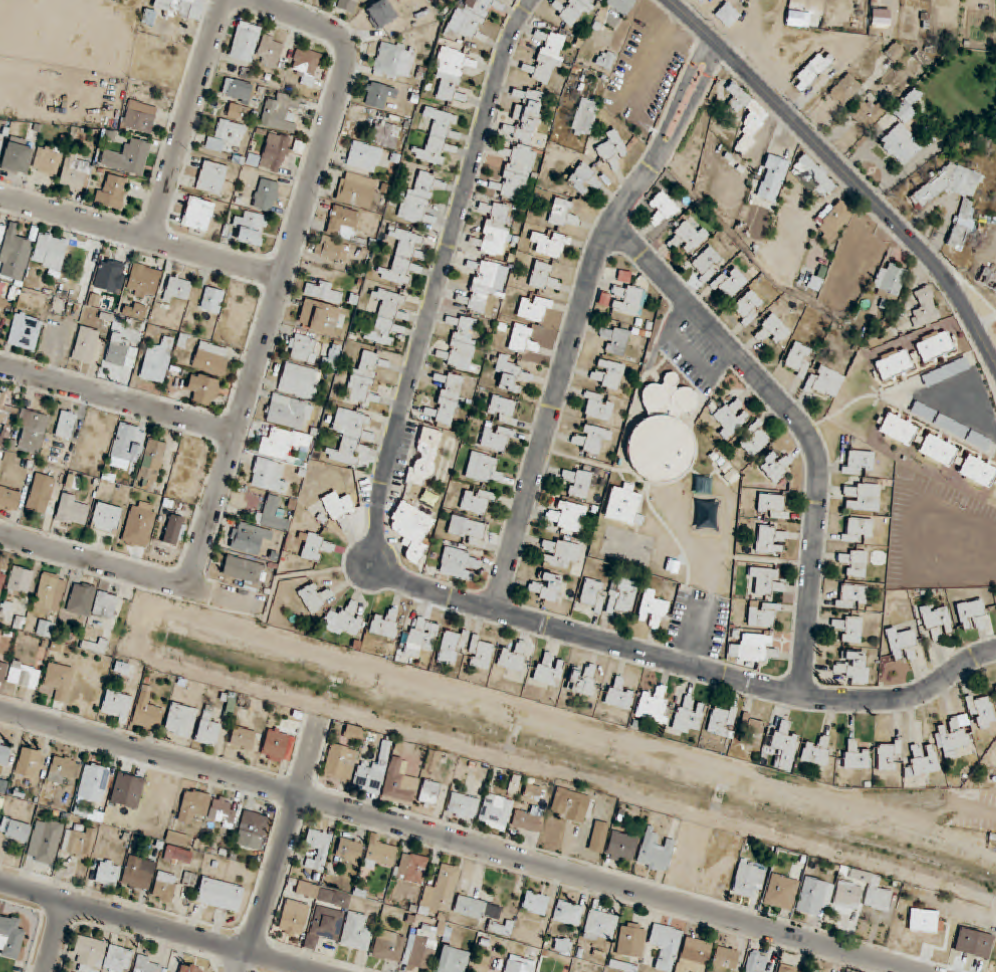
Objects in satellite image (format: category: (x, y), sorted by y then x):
building: (701, 1)
building: (346, 5)
building: (621, 5)
building: (181, 8)
building: (575, 11)
building: (380, 13)
building: (727, 14)
building: (469, 18)
building: (881, 18)
building: (648, 28)
building: (245, 42)
building: (270, 51)
building: (672, 52)
building: (895, 52)
building: (548, 58)
building: (606, 59)
building: (393, 60)
building: (306, 65)
building: (812, 70)
building: (449, 72)
building: (235, 88)
building: (845, 89)
building: (378, 94)
road: (681, 97)
road: (692, 107)
building: (238, 112)
building: (283, 112)
building: (866, 113)
building: (585, 116)
road: (187, 117)
building: (526, 117)
building: (139, 118)
building: (751, 131)
building: (902, 131)
building: (225, 134)
building: (386, 134)
building: (436, 137)
building: (0, 141)
building: (275, 152)
building: (17, 156)
building: (364, 156)
building: (128, 158)
building: (47, 160)
building: (76, 172)
building: (516, 172)
road: (846, 174)
building: (814, 177)
building: (212, 178)
building: (772, 178)
building: (584, 179)
building: (356, 190)
building: (113, 192)
building: (266, 195)
building: (417, 199)
building: (966, 208)
building: (662, 209)
building: (198, 214)
building: (564, 214)
building: (834, 221)
building: (251, 228)
building: (494, 229)
building: (340, 233)
road: (141, 234)
building: (688, 236)
building: (549, 244)
building: (852, 250)
building: (50, 251)
building: (15, 253)
building: (403, 257)
building: (707, 263)
road: (287, 265)
road: (444, 266)
building: (109, 274)
building: (544, 277)
building: (988, 278)
building: (890, 279)
building: (143, 281)
building: (729, 282)
building: (486, 284)
building: (176, 291)
building: (324, 292)
building: (212, 300)
building: (631, 300)
building: (845, 305)
building: (747, 307)
building: (534, 308)
building: (924, 308)
building: (135, 312)
building: (319, 317)
building: (385, 317)
building: (772, 330)
building: (24, 332)
building: (615, 340)
building: (523, 341)
building: (462, 344)
building: (85, 345)
building: (934, 346)
building: (301, 348)
building: (121, 351)
building: (332, 357)
building: (211, 359)
building: (799, 359)
building: (157, 360)
building: (893, 364)
building: (945, 372)
building: (607, 374)
building: (511, 375)
building: (364, 376)
road: (560, 379)
building: (300, 380)
building: (825, 382)
building: (204, 389)
road: (118, 396)
building: (448, 398)
building: (597, 406)
building: (503, 410)
building: (6, 411)
building: (289, 412)
building: (732, 417)
building: (66, 423)
road: (802, 424)
building: (950, 426)
building: (897, 429)
building: (32, 430)
building: (662, 433)
building: (348, 436)
building: (496, 438)
building: (590, 439)
building: (754, 439)
building: (283, 445)
building: (127, 446)
building: (937, 450)
building: (858, 462)
building: (151, 464)
building: (423, 465)
building: (775, 466)
building: (484, 469)
building: (977, 471)
building: (729, 474)
building: (269, 476)
building: (579, 480)
building: (72, 481)
building: (41, 495)
building: (429, 497)
building: (862, 497)
building: (9, 498)
building: (477, 501)
building: (623, 504)
building: (773, 506)
building: (73, 510)
building: (339, 510)
building: (272, 515)
building: (568, 517)
building: (139, 527)
building: (173, 530)
building: (411, 530)
building: (466, 530)
building: (857, 530)
building: (248, 538)
building: (770, 540)
building: (313, 546)
building: (933, 548)
building: (559, 552)
road: (93, 561)
building: (457, 563)
building: (854, 563)
building: (243, 569)
building: (1, 577)
building: (20, 580)
building: (766, 581)
building: (548, 589)
road: (223, 590)
building: (50, 594)
building: (592, 595)
building: (851, 596)
building: (315, 597)
building: (623, 597)
building: (81, 599)
building: (105, 605)
building: (652, 609)
building: (763, 615)
building: (972, 615)
building: (936, 619)
building: (344, 620)
building: (386, 623)
building: (45, 628)
building: (848, 629)
building: (423, 633)
building: (902, 644)
building: (451, 647)
building: (757, 648)
building: (480, 653)
building: (513, 657)
road: (675, 660)
building: (851, 666)
building: (549, 670)
building: (3, 671)
building: (24, 675)
building: (584, 679)
building: (58, 681)
building: (995, 690)
building: (619, 694)
building: (654, 701)
building: (117, 706)
building: (147, 711)
building: (981, 711)
building: (688, 715)
building: (181, 720)
building: (722, 720)
building: (208, 730)
building: (751, 732)
building: (353, 733)
building: (243, 738)
building: (950, 741)
building: (275, 745)
building: (784, 746)
building: (817, 751)
building: (4, 752)
road: (149, 753)
building: (855, 755)
road: (307, 756)
building: (888, 756)
building: (923, 759)
building: (432, 761)
building: (28, 762)
building: (340, 763)
building: (63, 769)
building: (373, 772)
building: (93, 783)
building: (399, 784)
building: (514, 784)
building: (532, 792)
building: (429, 794)
building: (573, 805)
building: (193, 806)
building: (462, 806)
building: (222, 811)
building: (495, 812)
building: (527, 820)
building: (15, 830)
building: (252, 830)
building: (599, 837)
building: (45, 841)
building: (79, 843)
building: (319, 847)
building: (622, 847)
building: (349, 850)
building: (655, 852)
building: (381, 853)
building: (179, 855)
building: (412, 868)
building: (108, 874)
building: (138, 874)
building: (749, 878)
road: (271, 884)
road: (610, 884)
building: (165, 887)
building: (441, 891)
building: (781, 892)
building: (220, 895)
building: (848, 895)
building: (814, 896)
building: (879, 899)
building: (535, 903)
building: (476, 908)
building: (568, 913)
building: (293, 918)
building: (924, 921)
building: (599, 925)
road: (158, 926)
building: (324, 926)
building: (356, 932)
road: (56, 936)
building: (10, 937)
building: (631, 940)
building: (389, 946)
building: (425, 946)
building: (563, 946)
building: (665, 946)
building: (90, 953)
building: (694, 955)
building: (726, 957)
building: (118, 959)
building: (452, 960)
building: (756, 962)
building: (519, 964)
building: (147, 965)
building: (190, 968)
building: (787, 969)
building: (813, 971)

